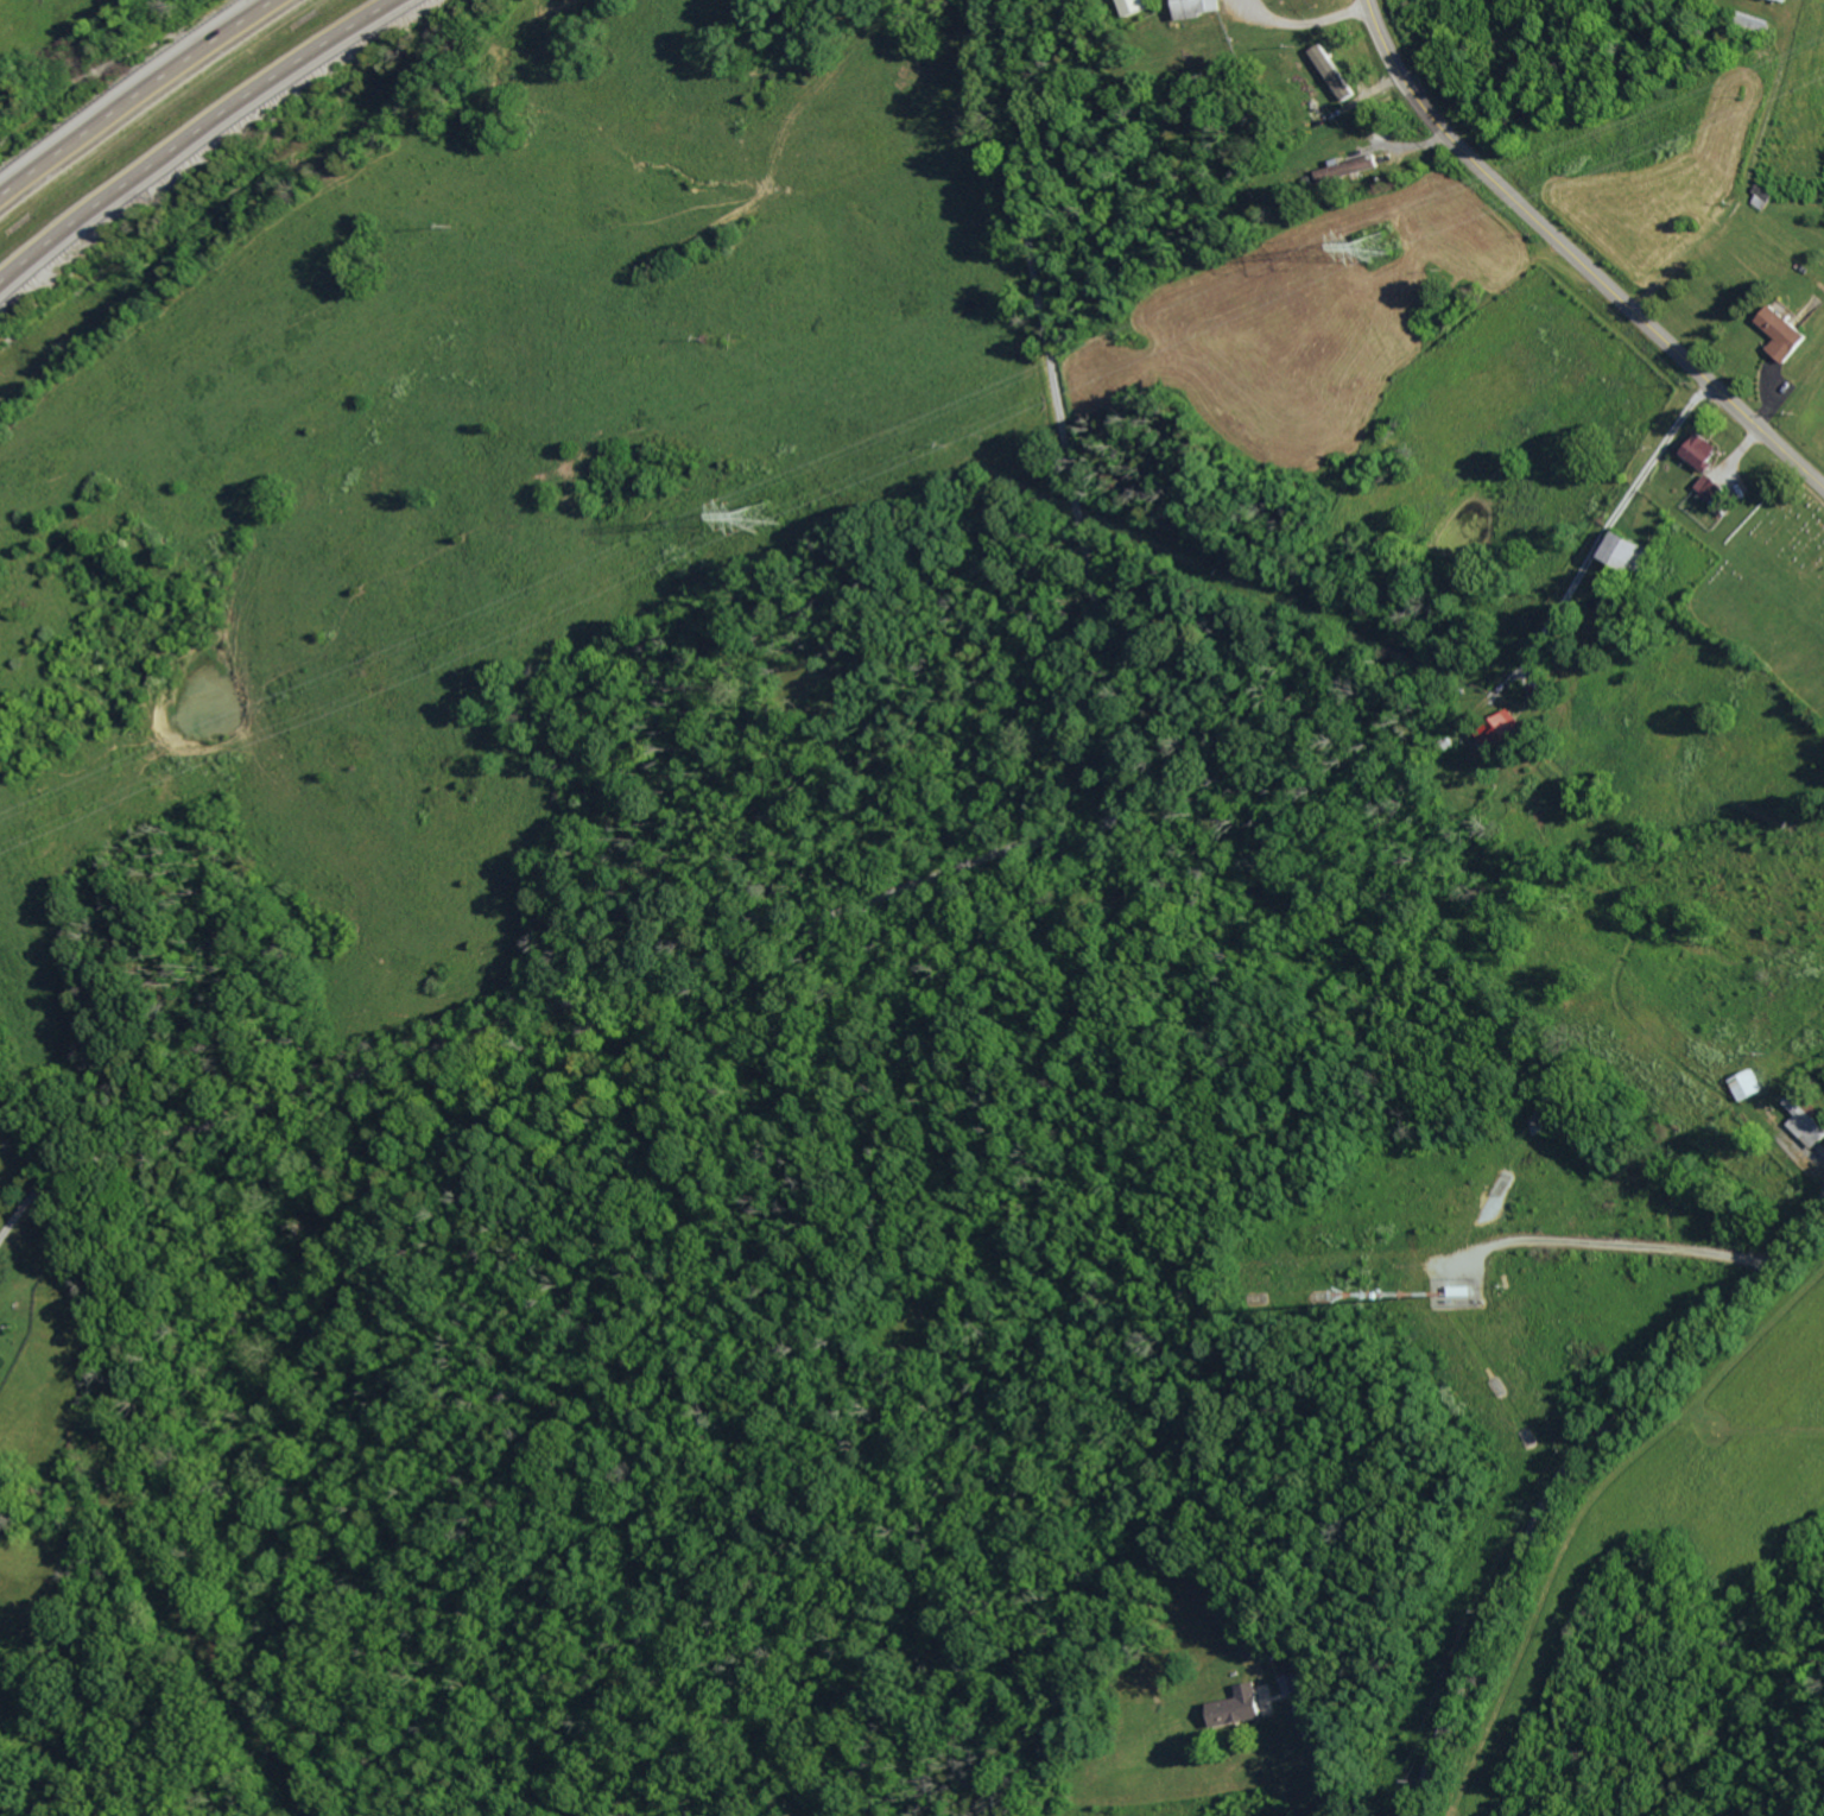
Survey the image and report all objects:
building: (1787, 0)
building: (1138, 6)
building: (1199, 7)
building: (1336, 71)
road: (134, 95)
road: (198, 137)
building: (1350, 167)
road: (1026, 197)
building: (1765, 198)
power tower: (1383, 245)
road: (1577, 259)
building: (1785, 334)
building: (1702, 450)
building: (1710, 487)
power tower: (764, 517)
road: (1613, 527)
building: (1628, 551)
park: (1772, 590)
building: (1507, 732)
road: (743, 942)
building: (1747, 1084)
building: (1807, 1120)
road: (1565, 1473)
building: (1293, 1682)
building: (1240, 1706)
road: (1326, 1760)

